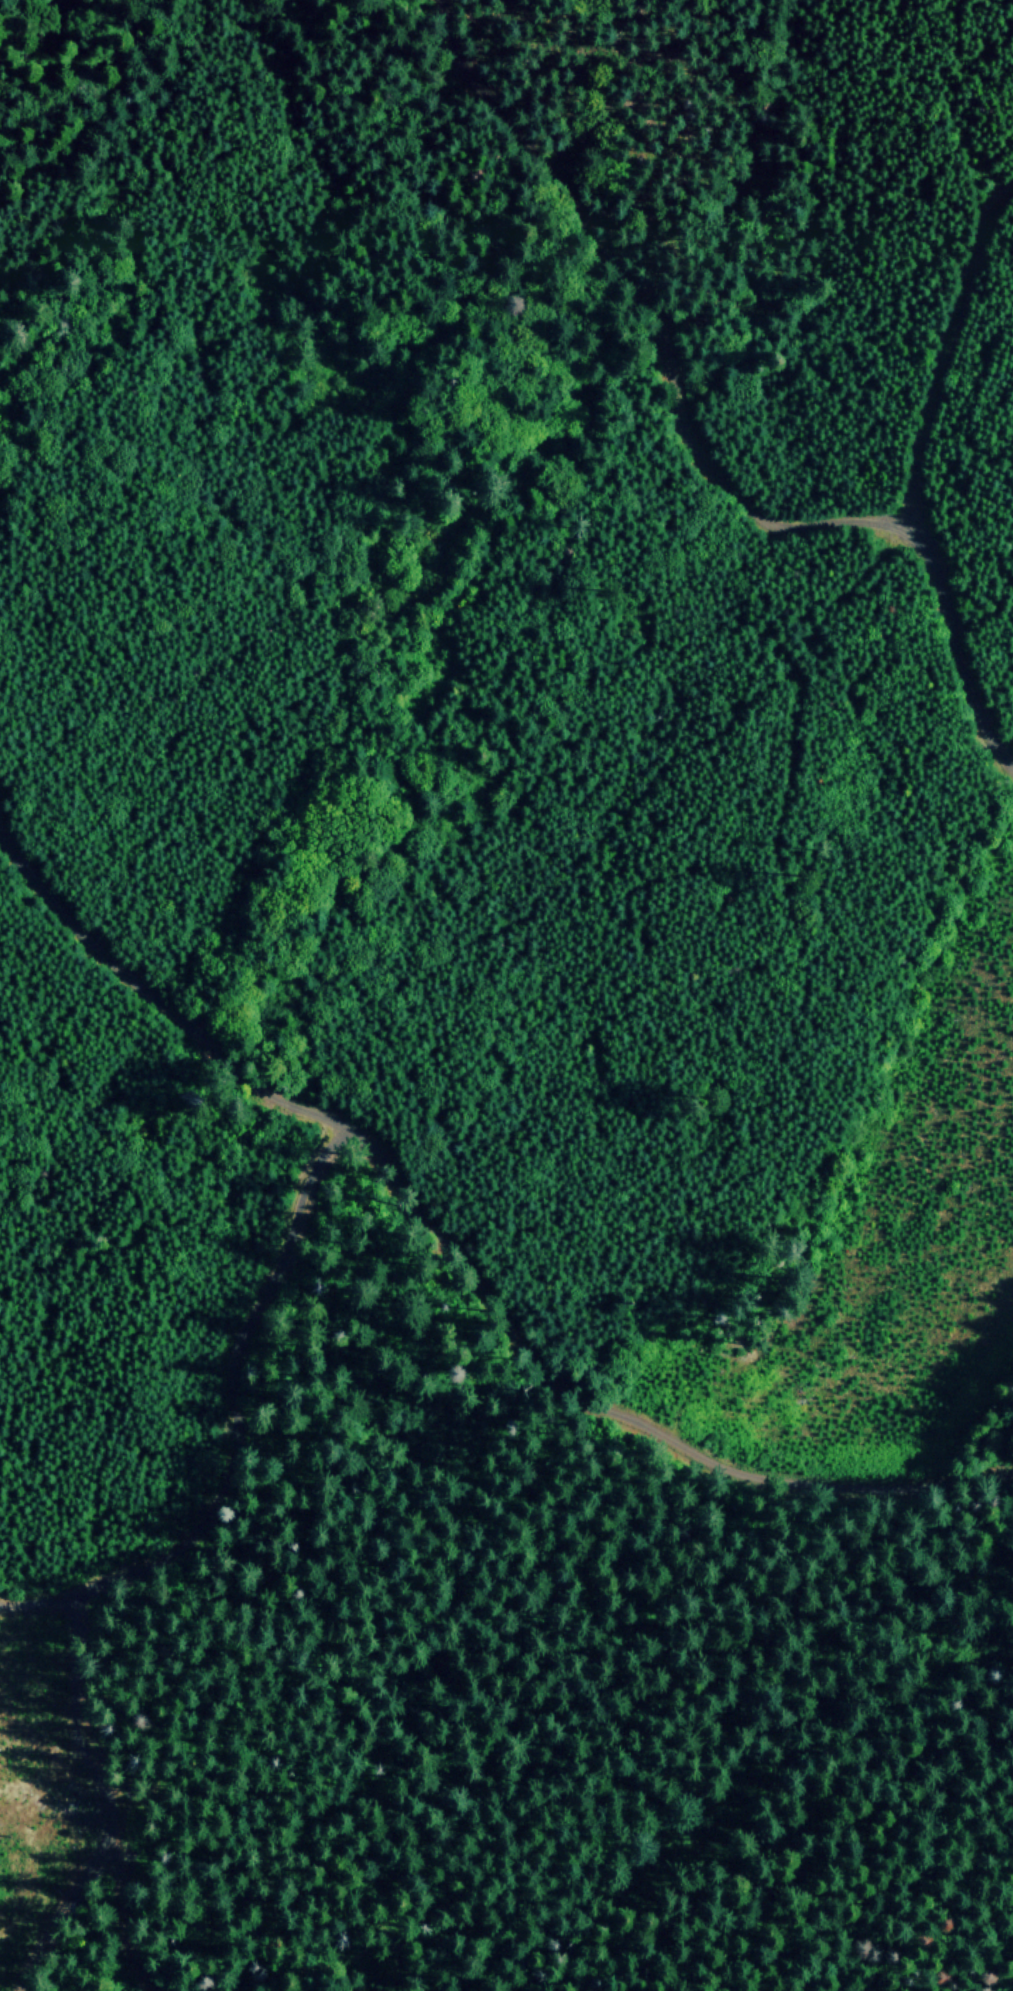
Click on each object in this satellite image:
crop: (895, 132)
road: (693, 446)
road: (910, 480)
road: (449, 1254)
road: (242, 1429)

